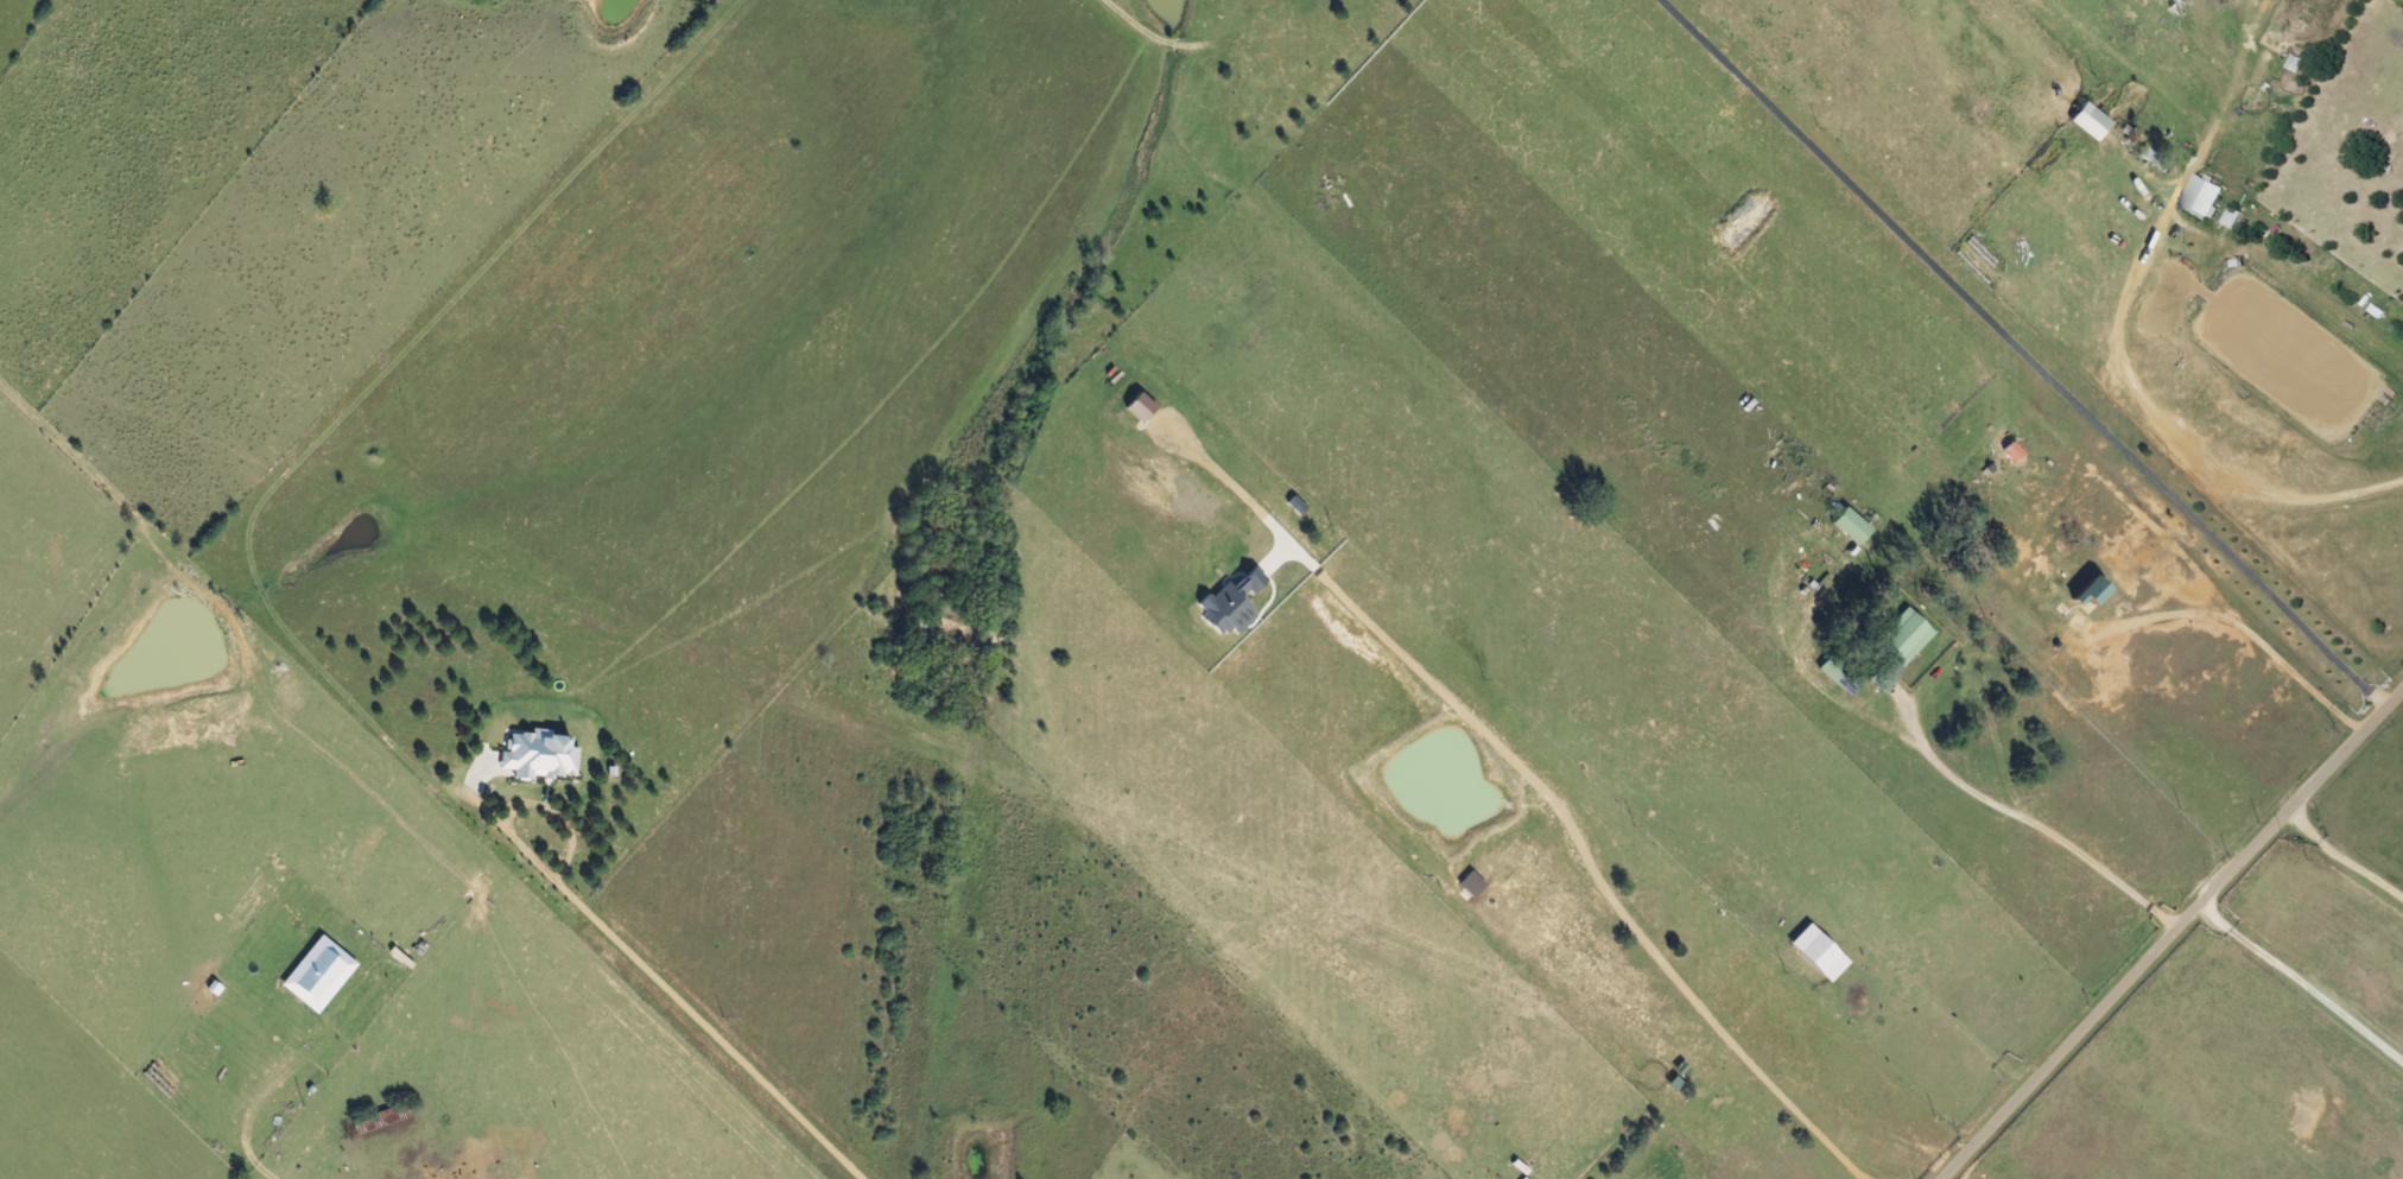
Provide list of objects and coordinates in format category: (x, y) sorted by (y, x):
building: (2092, 121)
building: (2202, 196)
building: (2232, 216)
road: (2021, 351)
building: (1142, 407)
road: (2195, 427)
building: (2015, 452)
building: (1853, 527)
building: (2087, 600)
building: (1234, 604)
road: (2232, 625)
building: (1907, 639)
road: (519, 819)
road: (2023, 823)
road: (1581, 856)
road: (2339, 861)
building: (1473, 885)
road: (2169, 931)
building: (1820, 953)
building: (321, 975)
road: (2297, 987)
road: (704, 1038)

